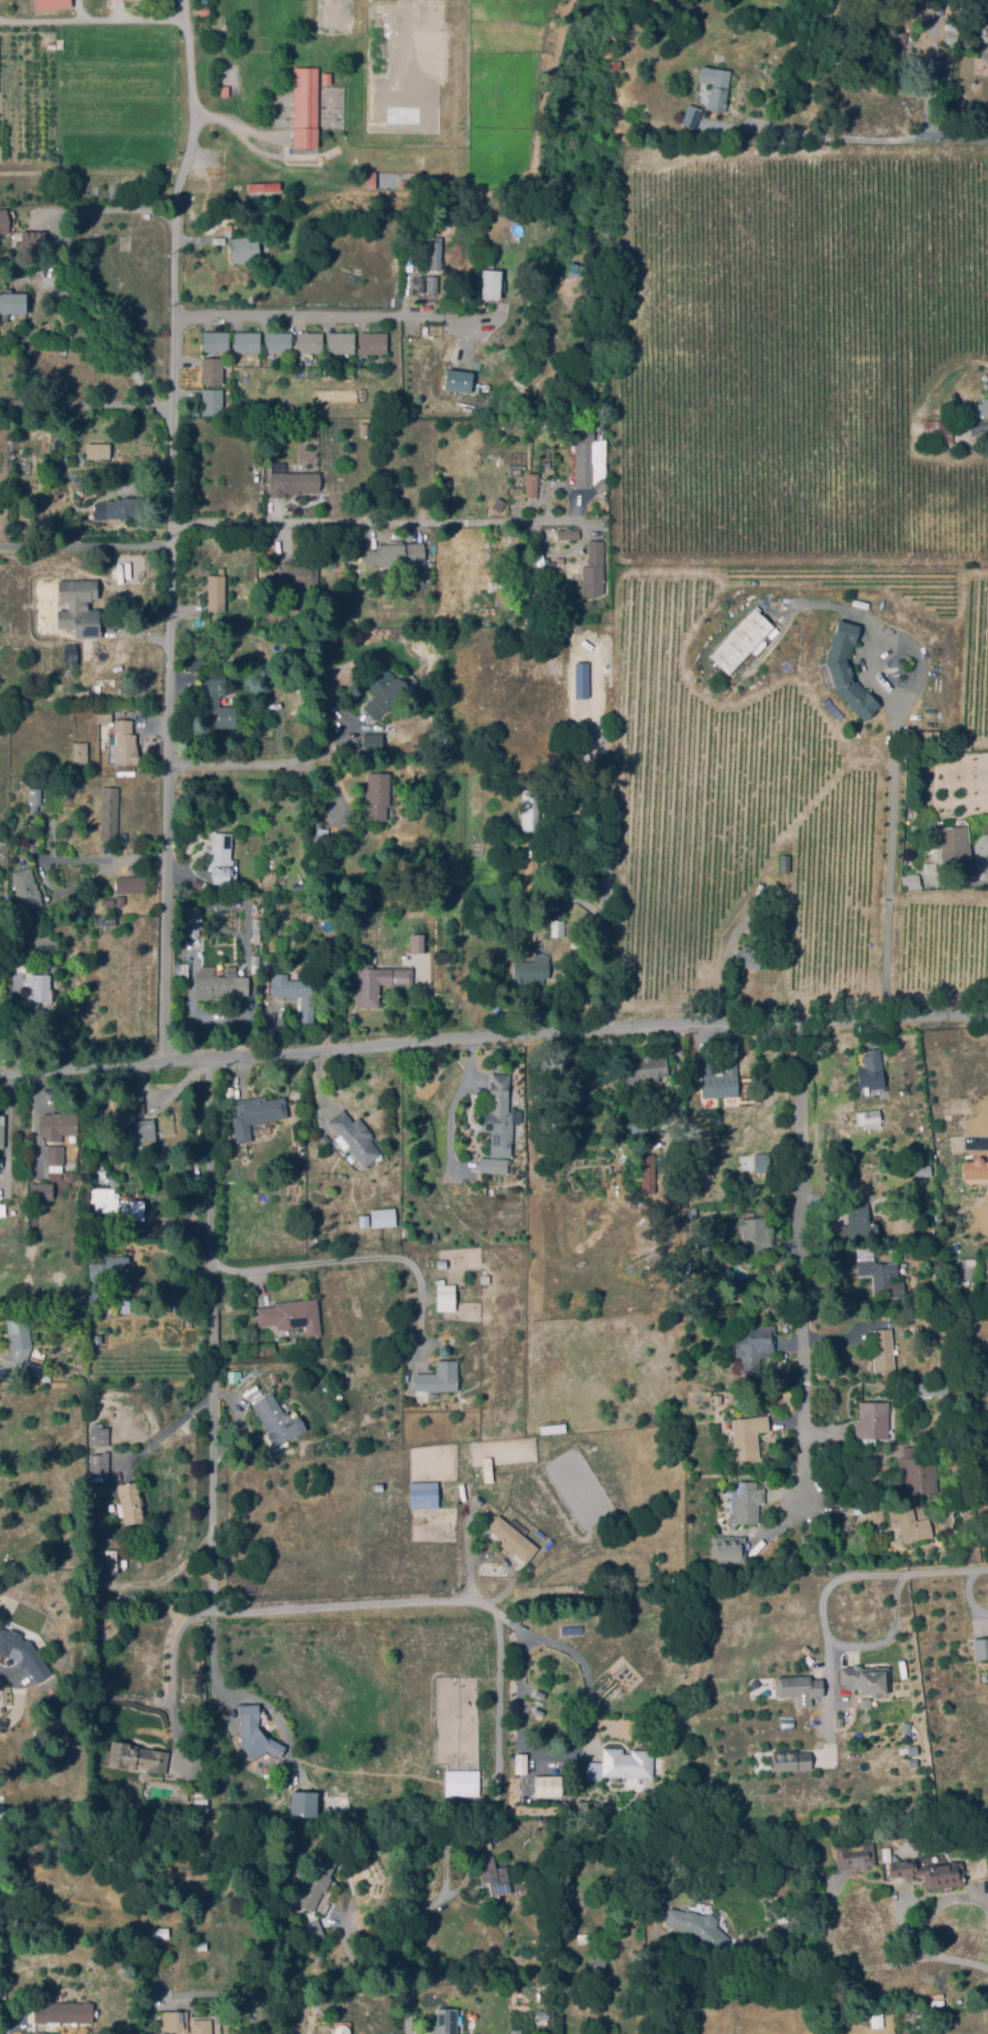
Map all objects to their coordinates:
road: (184, 9)
building: (912, 10)
building: (339, 18)
road: (92, 21)
building: (954, 31)
building: (987, 32)
building: (891, 47)
building: (915, 50)
building: (720, 56)
building: (986, 56)
building: (616, 64)
road: (933, 67)
building: (222, 79)
building: (231, 80)
building: (409, 82)
building: (717, 86)
building: (308, 109)
building: (693, 115)
road: (193, 118)
road: (764, 131)
building: (625, 133)
road: (902, 135)
building: (370, 180)
building: (376, 183)
building: (294, 217)
building: (4, 221)
building: (31, 241)
building: (245, 249)
building: (433, 252)
building: (433, 284)
building: (491, 284)
building: (13, 302)
road: (332, 318)
road: (105, 336)
building: (248, 341)
building: (216, 342)
building: (278, 342)
building: (310, 343)
building: (340, 343)
building: (373, 343)
building: (213, 370)
building: (457, 380)
building: (213, 400)
road: (85, 406)
building: (983, 409)
building: (194, 411)
road: (254, 411)
building: (598, 421)
building: (539, 424)
building: (352, 427)
building: (363, 428)
building: (943, 432)
building: (98, 450)
building: (590, 460)
building: (545, 464)
building: (57, 471)
building: (291, 481)
building: (532, 484)
building: (117, 509)
road: (380, 518)
building: (568, 534)
building: (238, 540)
building: (362, 541)
road: (89, 550)
building: (396, 554)
building: (560, 561)
building: (594, 569)
building: (301, 573)
building: (504, 588)
building: (216, 593)
building: (77, 608)
building: (354, 612)
road: (175, 636)
building: (741, 641)
building: (296, 648)
building: (68, 654)
building: (100, 659)
building: (194, 664)
building: (847, 672)
building: (385, 690)
building: (217, 705)
building: (104, 717)
building: (125, 742)
building: (373, 746)
building: (81, 753)
road: (269, 764)
building: (378, 795)
building: (68, 796)
building: (35, 799)
building: (531, 809)
building: (110, 813)
building: (321, 839)
building: (733, 844)
building: (953, 847)
road: (891, 859)
building: (223, 860)
road: (99, 861)
building: (785, 863)
building: (316, 872)
building: (531, 877)
building: (911, 882)
building: (131, 884)
building: (301, 886)
building: (26, 890)
building: (121, 900)
building: (459, 900)
building: (108, 902)
building: (194, 925)
building: (104, 926)
building: (558, 927)
building: (255, 930)
building: (486, 935)
building: (21, 939)
building: (418, 943)
building: (255, 959)
building: (746, 959)
building: (267, 966)
building: (531, 971)
building: (216, 982)
building: (379, 982)
building: (39, 987)
building: (296, 994)
road: (493, 1036)
building: (873, 1065)
building: (646, 1070)
building: (720, 1080)
road: (454, 1102)
building: (136, 1103)
building: (114, 1108)
building: (256, 1115)
building: (747, 1115)
building: (868, 1117)
building: (639, 1121)
building: (502, 1123)
building: (59, 1126)
building: (739, 1128)
road: (980, 1131)
building: (2, 1132)
building: (144, 1135)
building: (355, 1138)
building: (325, 1140)
building: (55, 1158)
building: (759, 1162)
building: (499, 1165)
building: (975, 1167)
building: (649, 1174)
building: (40, 1190)
building: (105, 1207)
building: (4, 1208)
building: (518, 1211)
building: (382, 1217)
building: (364, 1220)
building: (148, 1221)
building: (858, 1222)
building: (758, 1236)
building: (501, 1240)
building: (649, 1248)
road: (803, 1258)
road: (356, 1259)
building: (109, 1268)
building: (970, 1269)
building: (881, 1274)
building: (974, 1286)
building: (443, 1305)
building: (124, 1306)
building: (292, 1315)
building: (20, 1346)
building: (755, 1346)
building: (884, 1349)
building: (270, 1350)
building: (440, 1376)
building: (232, 1377)
building: (926, 1389)
building: (279, 1420)
building: (873, 1422)
building: (554, 1432)
building: (748, 1432)
building: (97, 1435)
building: (97, 1463)
building: (488, 1469)
building: (918, 1471)
building: (98, 1476)
building: (280, 1492)
building: (422, 1495)
building: (131, 1502)
building: (746, 1502)
building: (876, 1515)
building: (911, 1524)
road: (215, 1527)
building: (512, 1538)
building: (730, 1547)
building: (109, 1562)
building: (103, 1566)
road: (829, 1591)
road: (215, 1612)
road: (884, 1637)
building: (982, 1647)
building: (23, 1652)
building: (866, 1679)
building: (800, 1685)
road: (499, 1706)
building: (841, 1721)
building: (255, 1733)
building: (137, 1756)
building: (340, 1757)
road: (540, 1757)
building: (519, 1761)
building: (627, 1763)
building: (787, 1763)
building: (341, 1771)
building: (278, 1781)
building: (547, 1785)
building: (274, 1802)
building: (199, 1803)
building: (341, 1803)
building: (303, 1804)
building: (207, 1811)
building: (0, 1813)
building: (856, 1855)
building: (930, 1872)
building: (502, 1877)
building: (292, 1878)
building: (315, 1881)
road: (987, 1895)
building: (699, 1928)
building: (311, 1930)
building: (584, 1938)
building: (157, 1957)
building: (600, 1965)
road: (870, 1966)
road: (233, 2001)
building: (64, 2012)
building: (514, 2015)
building: (535, 2015)
building: (875, 2020)
building: (185, 2023)
road: (12, 2024)
building: (340, 2029)
building: (437, 2030)
building: (515, 2031)

